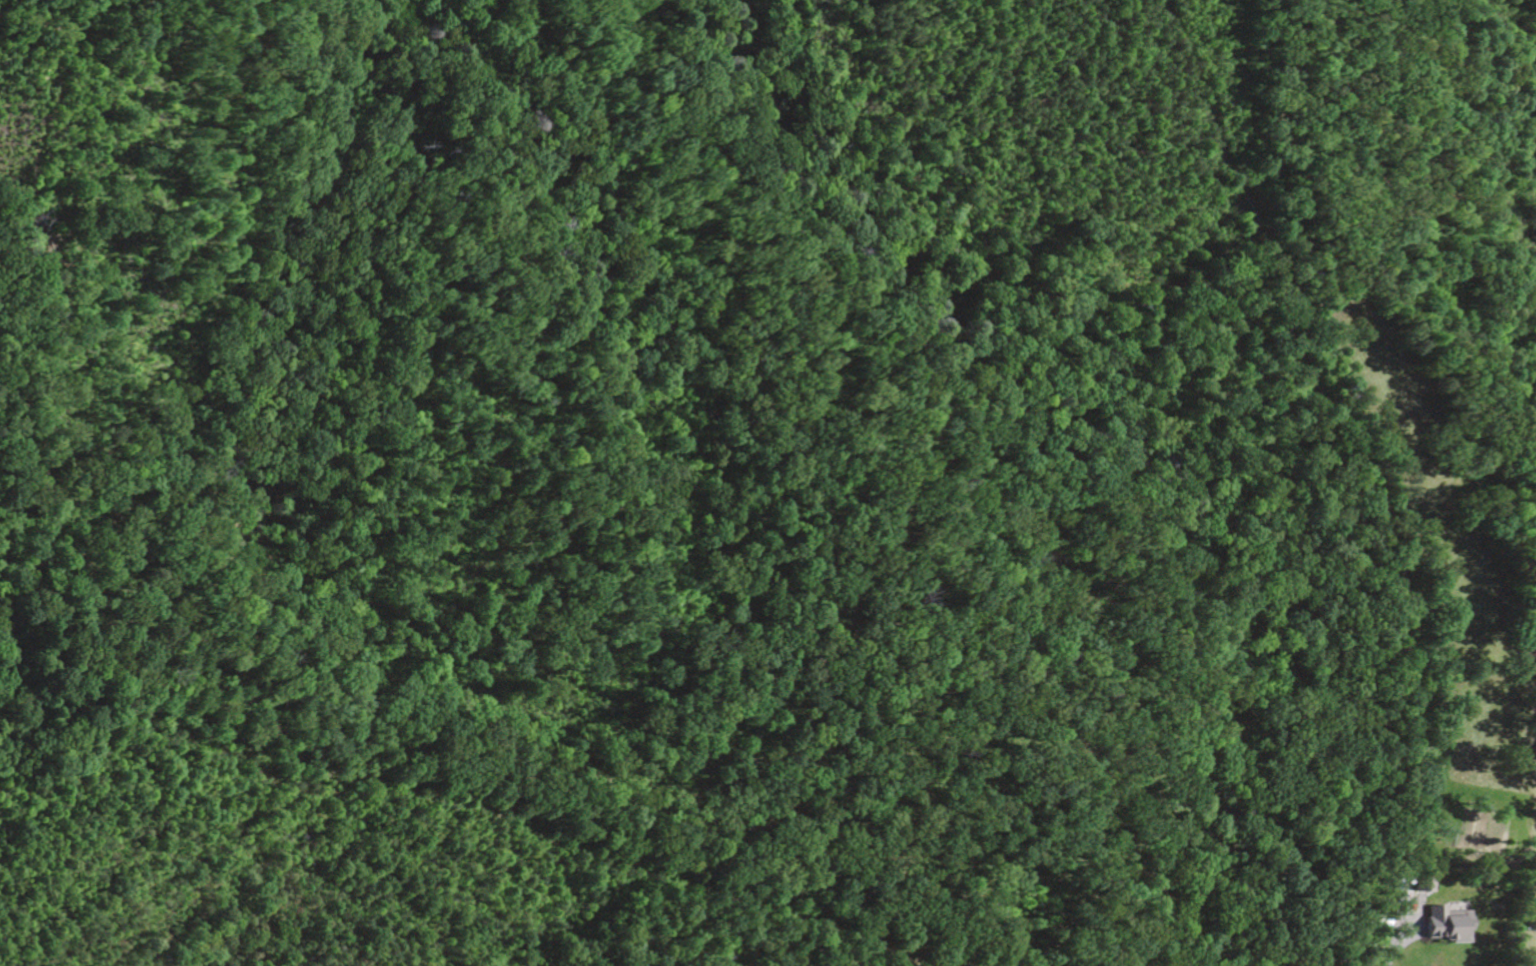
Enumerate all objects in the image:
building: (1421, 883)
building: (1442, 926)

